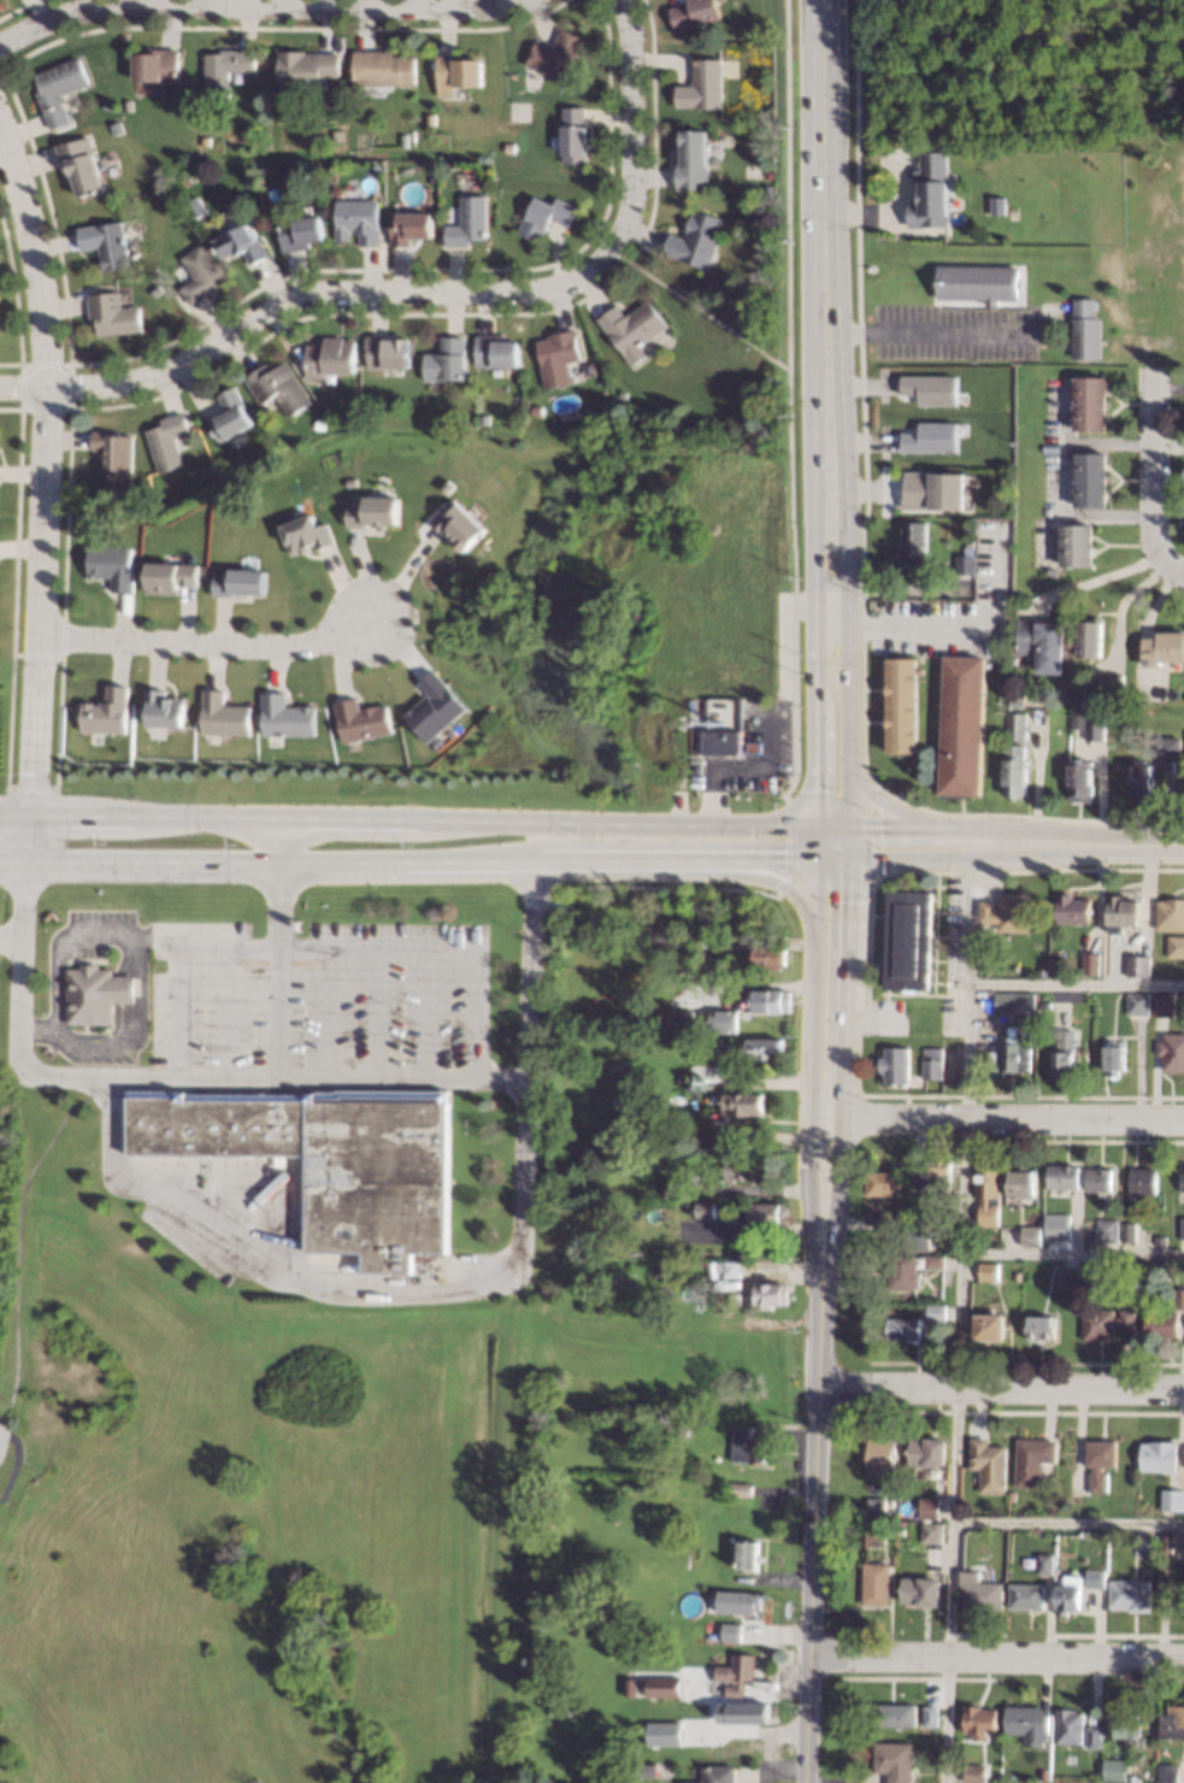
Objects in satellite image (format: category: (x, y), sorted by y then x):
road: (73, 6)
road: (258, 8)
building: (694, 12)
building: (555, 53)
building: (154, 64)
building: (304, 65)
building: (382, 66)
building: (224, 70)
building: (455, 71)
building: (701, 86)
building: (58, 88)
building: (107, 105)
building: (126, 105)
building: (116, 128)
building: (572, 134)
building: (336, 135)
building: (204, 140)
road: (631, 143)
building: (691, 158)
building: (79, 164)
building: (376, 167)
building: (930, 190)
building: (193, 206)
building: (996, 206)
road: (649, 211)
building: (764, 213)
building: (544, 216)
building: (358, 218)
building: (467, 220)
building: (408, 226)
road: (596, 230)
building: (298, 231)
building: (694, 237)
building: (105, 242)
building: (240, 243)
building: (199, 273)
building: (143, 282)
building: (977, 282)
building: (155, 289)
road: (308, 298)
road: (821, 300)
road: (690, 304)
building: (112, 313)
building: (631, 329)
building: (1083, 329)
road: (929, 333)
building: (495, 351)
building: (385, 352)
building: (558, 355)
building: (328, 357)
building: (444, 359)
building: (277, 387)
road: (24, 388)
building: (930, 389)
building: (622, 396)
road: (789, 402)
building: (1088, 402)
building: (536, 408)
building: (229, 416)
building: (483, 418)
building: (318, 424)
building: (673, 432)
building: (930, 437)
building: (165, 441)
building: (113, 451)
road: (1148, 476)
building: (683, 478)
building: (1089, 479)
building: (931, 489)
road: (46, 494)
building: (971, 500)
building: (376, 511)
building: (1044, 512)
building: (460, 524)
building: (307, 532)
building: (913, 541)
building: (1074, 545)
building: (964, 564)
building: (112, 565)
road: (1173, 570)
building: (1048, 572)
building: (170, 577)
road: (1095, 577)
building: (241, 581)
road: (953, 629)
building: (1088, 637)
road: (208, 642)
building: (1041, 643)
building: (1162, 648)
building: (988, 664)
building: (1106, 681)
building: (1014, 700)
building: (1076, 701)
building: (705, 704)
building: (902, 705)
building: (164, 707)
building: (435, 707)
road: (817, 711)
building: (106, 712)
road: (847, 712)
building: (224, 716)
building: (287, 717)
building: (363, 719)
building: (1076, 719)
building: (962, 725)
building: (1014, 725)
building: (1092, 730)
building: (718, 740)
building: (753, 746)
building: (1167, 747)
building: (1014, 771)
building: (1078, 781)
building: (1141, 782)
traffic signals: (819, 790)
road: (823, 805)
road: (890, 808)
road: (864, 811)
road: (408, 818)
road: (831, 826)
traffic signals: (878, 828)
road: (992, 829)
road: (789, 837)
road: (1161, 842)
road: (815, 843)
road: (847, 843)
road: (873, 843)
road: (831, 859)
road: (994, 859)
traffic signals: (783, 860)
road: (407, 865)
road: (752, 876)
road: (795, 877)
road: (872, 882)
road: (835, 884)
road: (813, 887)
road: (846, 894)
traffic signals: (846, 901)
building: (1077, 908)
building: (1011, 912)
building: (1172, 913)
building: (1125, 914)
building: (670, 920)
road: (8, 931)
road: (110, 931)
building: (912, 940)
building: (670, 942)
building: (711, 942)
building: (1177, 946)
road: (277, 947)
building: (694, 947)
road: (441, 949)
building: (768, 955)
building: (1094, 963)
building: (1142, 965)
road: (1076, 987)
building: (95, 993)
building: (768, 1000)
building: (1018, 1002)
building: (1048, 1004)
building: (1141, 1004)
building: (1164, 1004)
road: (812, 1014)
building: (679, 1019)
building: (724, 1020)
road: (843, 1023)
building: (1032, 1029)
road: (131, 1037)
building: (714, 1041)
building: (762, 1048)
building: (1173, 1052)
building: (1066, 1053)
building: (1014, 1057)
building: (1118, 1060)
building: (935, 1061)
building: (897, 1064)
road: (282, 1078)
building: (712, 1081)
building: (742, 1102)
road: (826, 1116)
road: (1012, 1117)
building: (326, 1158)
building: (736, 1167)
building: (933, 1173)
building: (1066, 1177)
building: (1182, 1178)
building: (1101, 1179)
building: (1145, 1181)
building: (1024, 1182)
building: (886, 1183)
building: (675, 1187)
building: (990, 1194)
building: (705, 1210)
road: (814, 1210)
road: (829, 1210)
building: (765, 1212)
building: (893, 1223)
building: (1090, 1225)
building: (1109, 1229)
building: (1060, 1230)
building: (1130, 1231)
building: (1183, 1231)
road: (16, 1234)
building: (920, 1235)
building: (1033, 1236)
building: (901, 1241)
building: (1162, 1241)
road: (1071, 1254)
building: (937, 1260)
building: (725, 1267)
building: (1136, 1269)
building: (905, 1271)
building: (990, 1271)
building: (1020, 1276)
building: (1071, 1277)
road: (348, 1283)
building: (766, 1294)
building: (1180, 1297)
road: (956, 1306)
building: (938, 1314)
building: (1108, 1323)
building: (1164, 1325)
building: (991, 1326)
building: (1043, 1326)
building: (905, 1328)
road: (999, 1387)
building: (682, 1430)
building: (747, 1446)
building: (930, 1452)
building: (885, 1457)
building: (1160, 1457)
building: (1035, 1459)
building: (1102, 1461)
road: (13, 1463)
building: (991, 1465)
building: (740, 1489)
building: (1077, 1499)
building: (1173, 1500)
building: (893, 1504)
building: (878, 1506)
building: (931, 1508)
building: (1006, 1510)
building: (893, 1516)
road: (1067, 1520)
building: (893, 1529)
building: (903, 1530)
building: (935, 1532)
building: (877, 1534)
building: (1180, 1537)
road: (809, 1543)
building: (1170, 1543)
building: (1150, 1544)
building: (746, 1555)
building: (1049, 1564)
building: (1098, 1578)
building: (877, 1584)
building: (923, 1590)
building: (983, 1591)
building: (1073, 1594)
building: (1135, 1595)
building: (1030, 1596)
building: (736, 1601)
building: (730, 1632)
road: (995, 1655)
building: (734, 1673)
building: (660, 1683)
building: (666, 1708)
building: (747, 1712)
building: (899, 1714)
building: (933, 1716)
building: (983, 1720)
building: (1174, 1722)
building: (1032, 1723)
building: (1124, 1723)
building: (667, 1726)
building: (1073, 1726)
building: (1096, 1737)
building: (896, 1760)
building: (646, 1764)
building: (1118, 1769)
building: (978, 1773)
building: (1172, 1773)
building: (717, 1775)
building: (1047, 1775)

